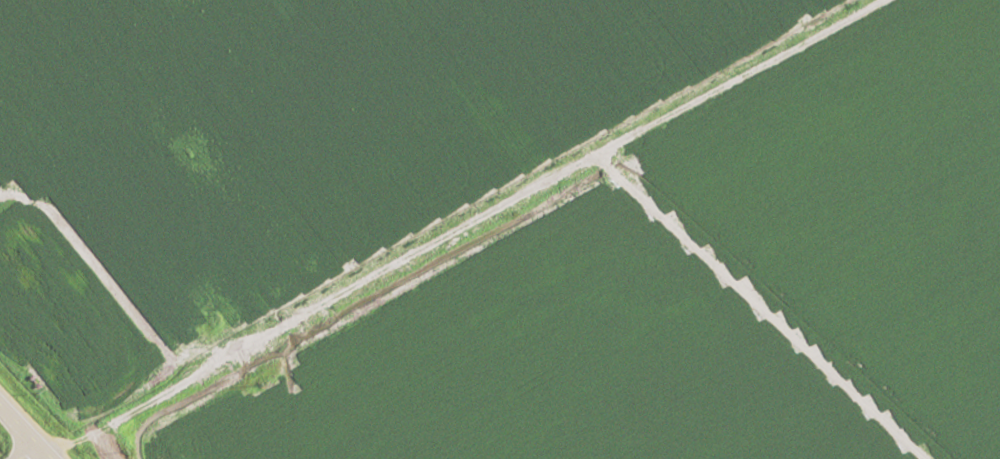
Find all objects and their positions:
road: (487, 224)
road: (24, 433)
road: (44, 458)

